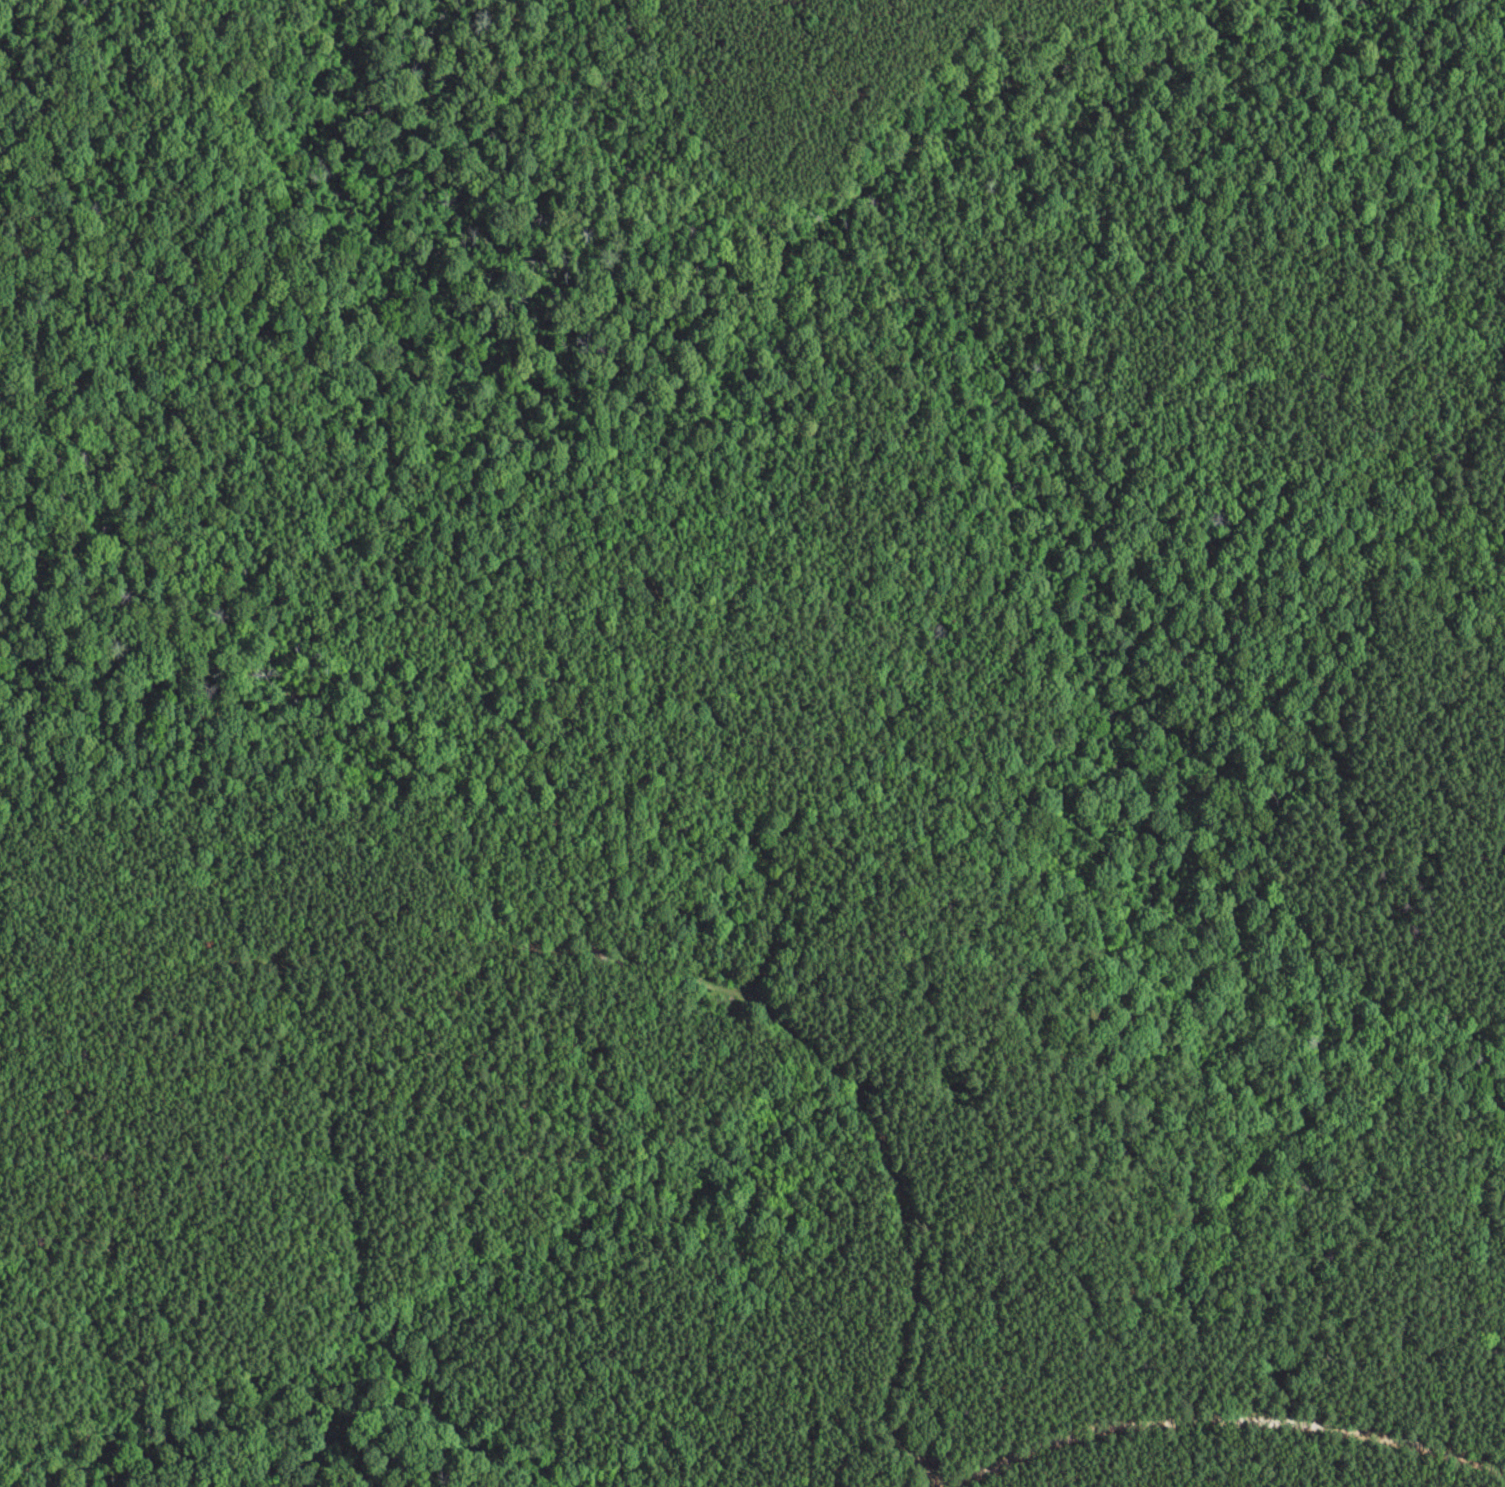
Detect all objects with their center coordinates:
road: (1062, 1427)
road: (1342, 1448)

